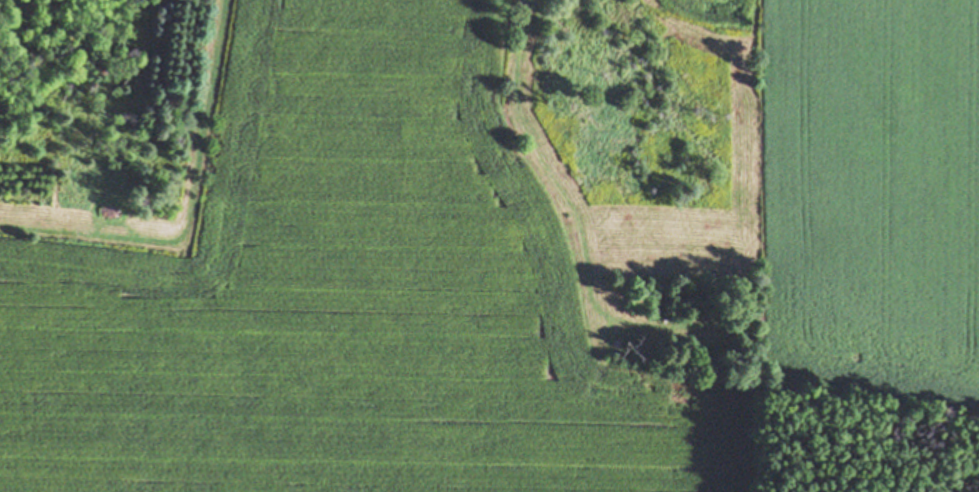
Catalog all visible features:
crop: (868, 188)

